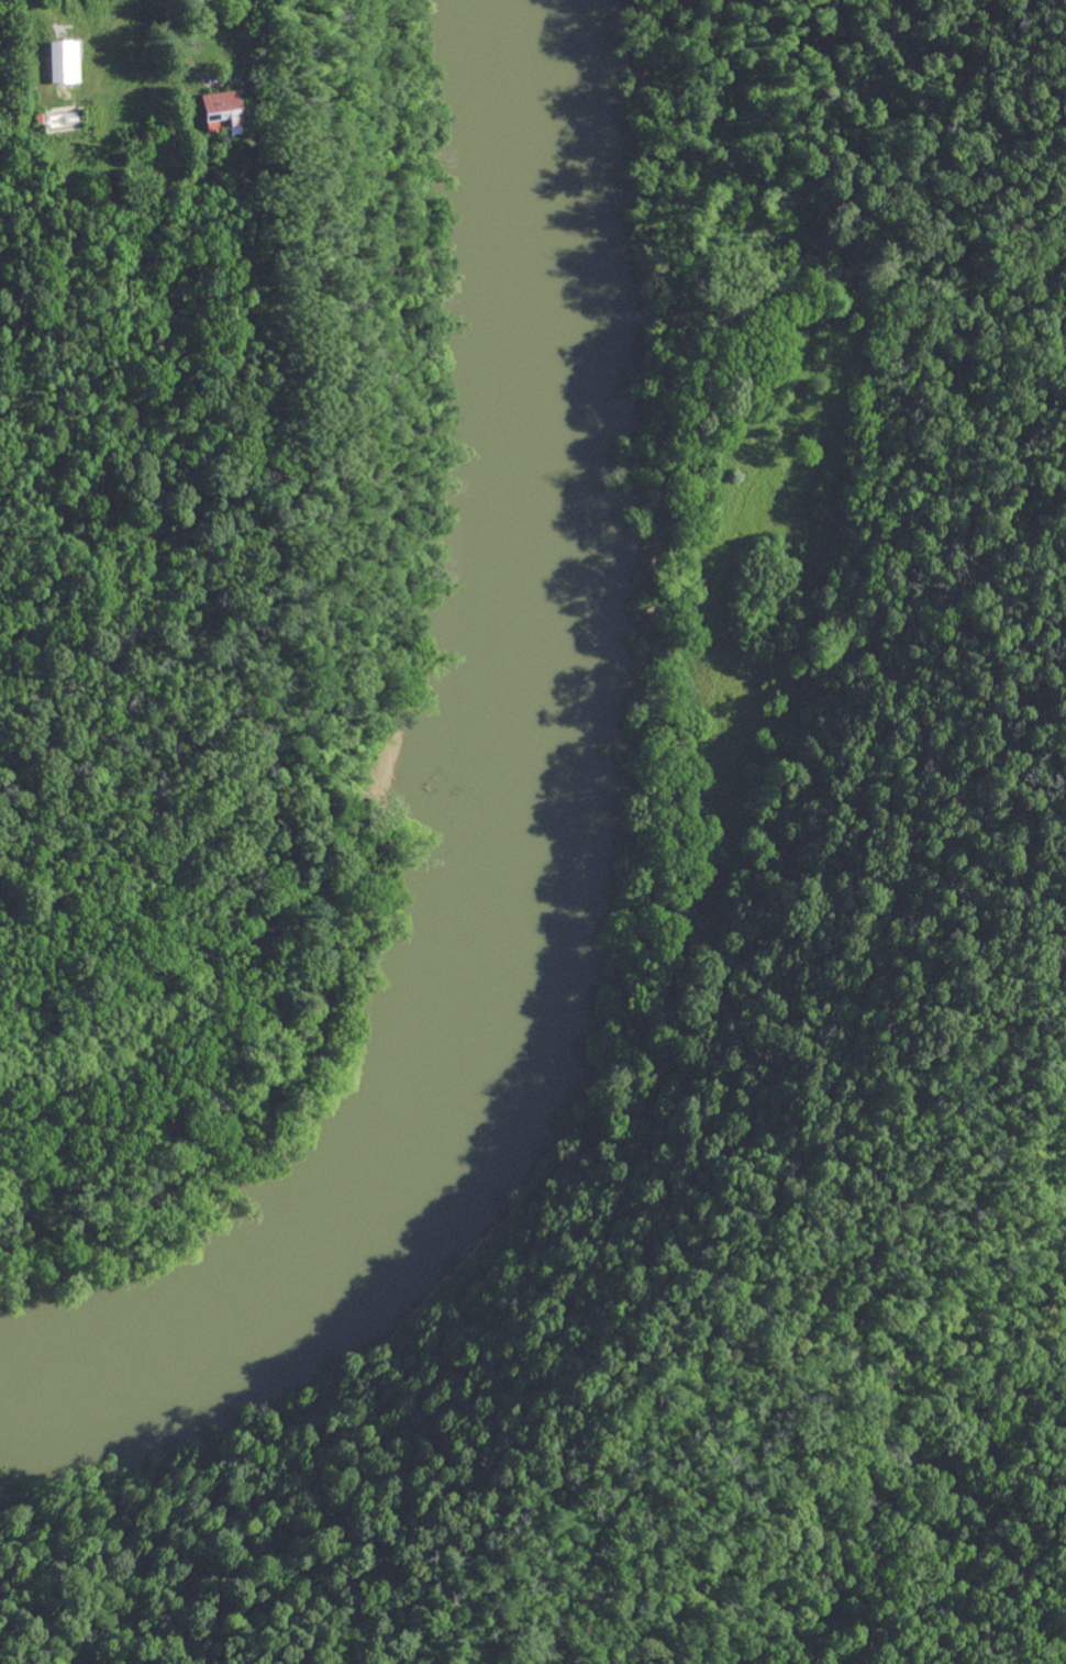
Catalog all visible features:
road: (244, 42)
building: (68, 62)
building: (229, 111)
river: (535, 824)

